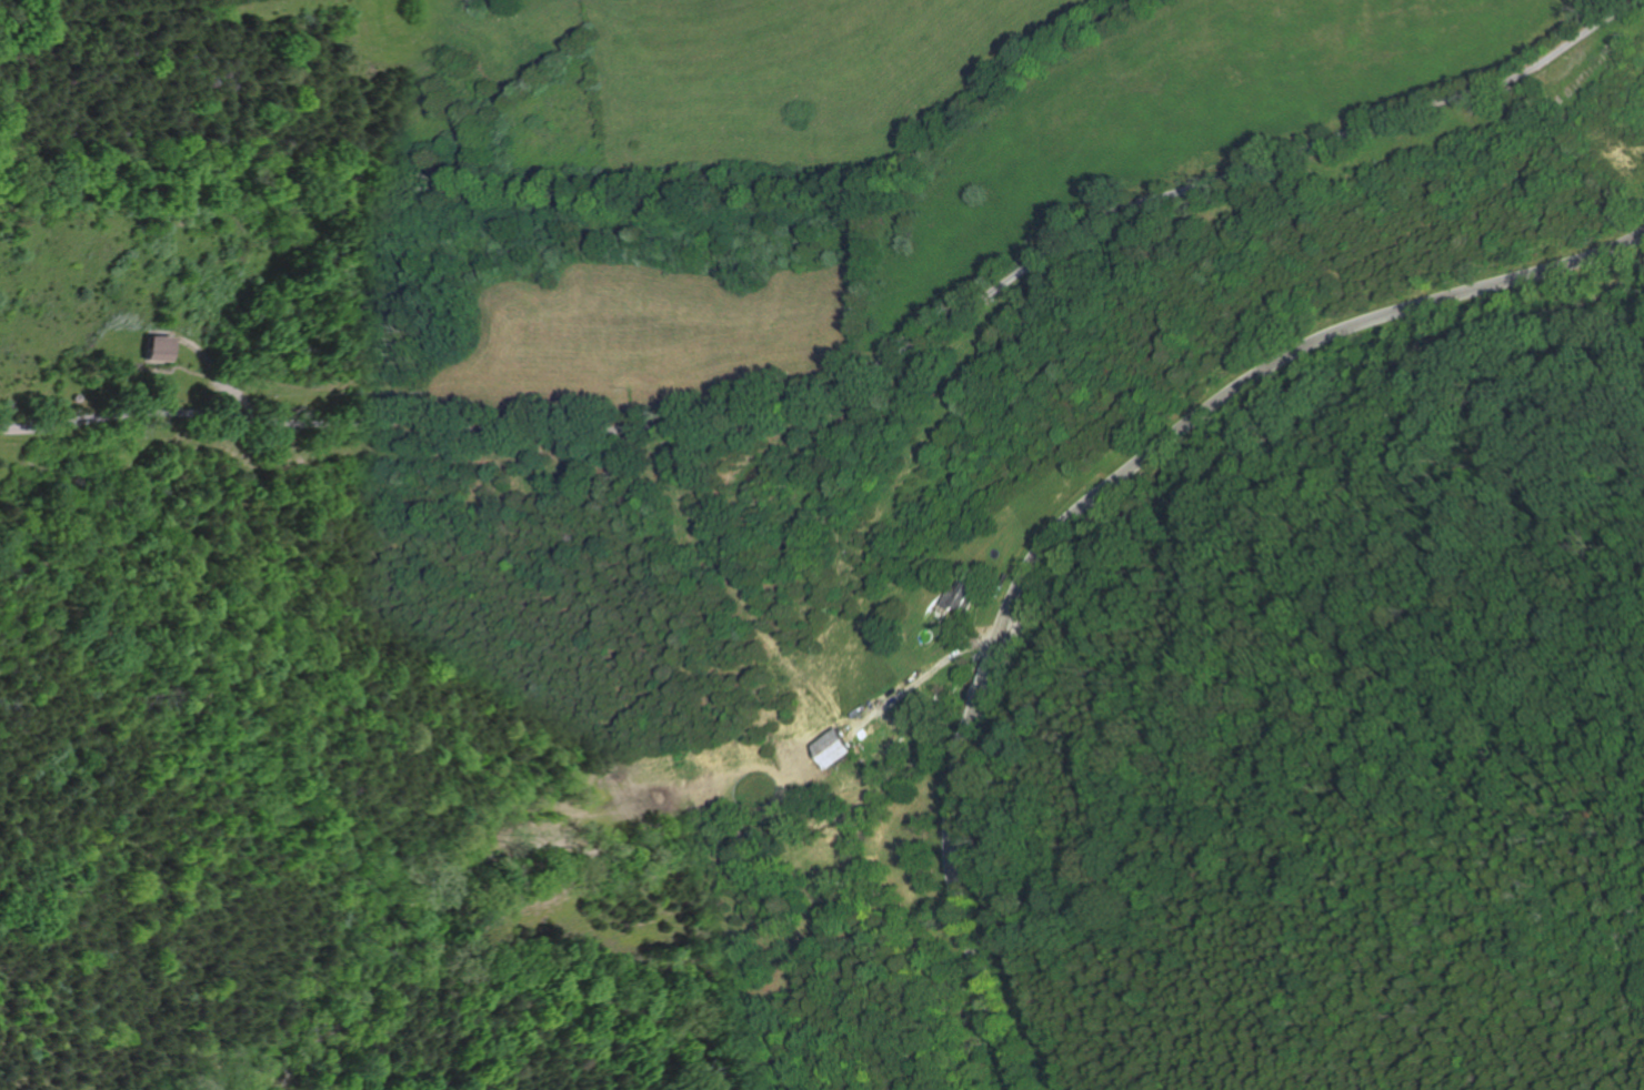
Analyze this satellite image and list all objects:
building: (153, 349)
road: (171, 366)
road: (1270, 366)
road: (218, 374)
road: (861, 374)
road: (217, 382)
building: (76, 398)
building: (955, 594)
road: (991, 663)
road: (922, 675)
building: (829, 745)
road: (954, 887)

